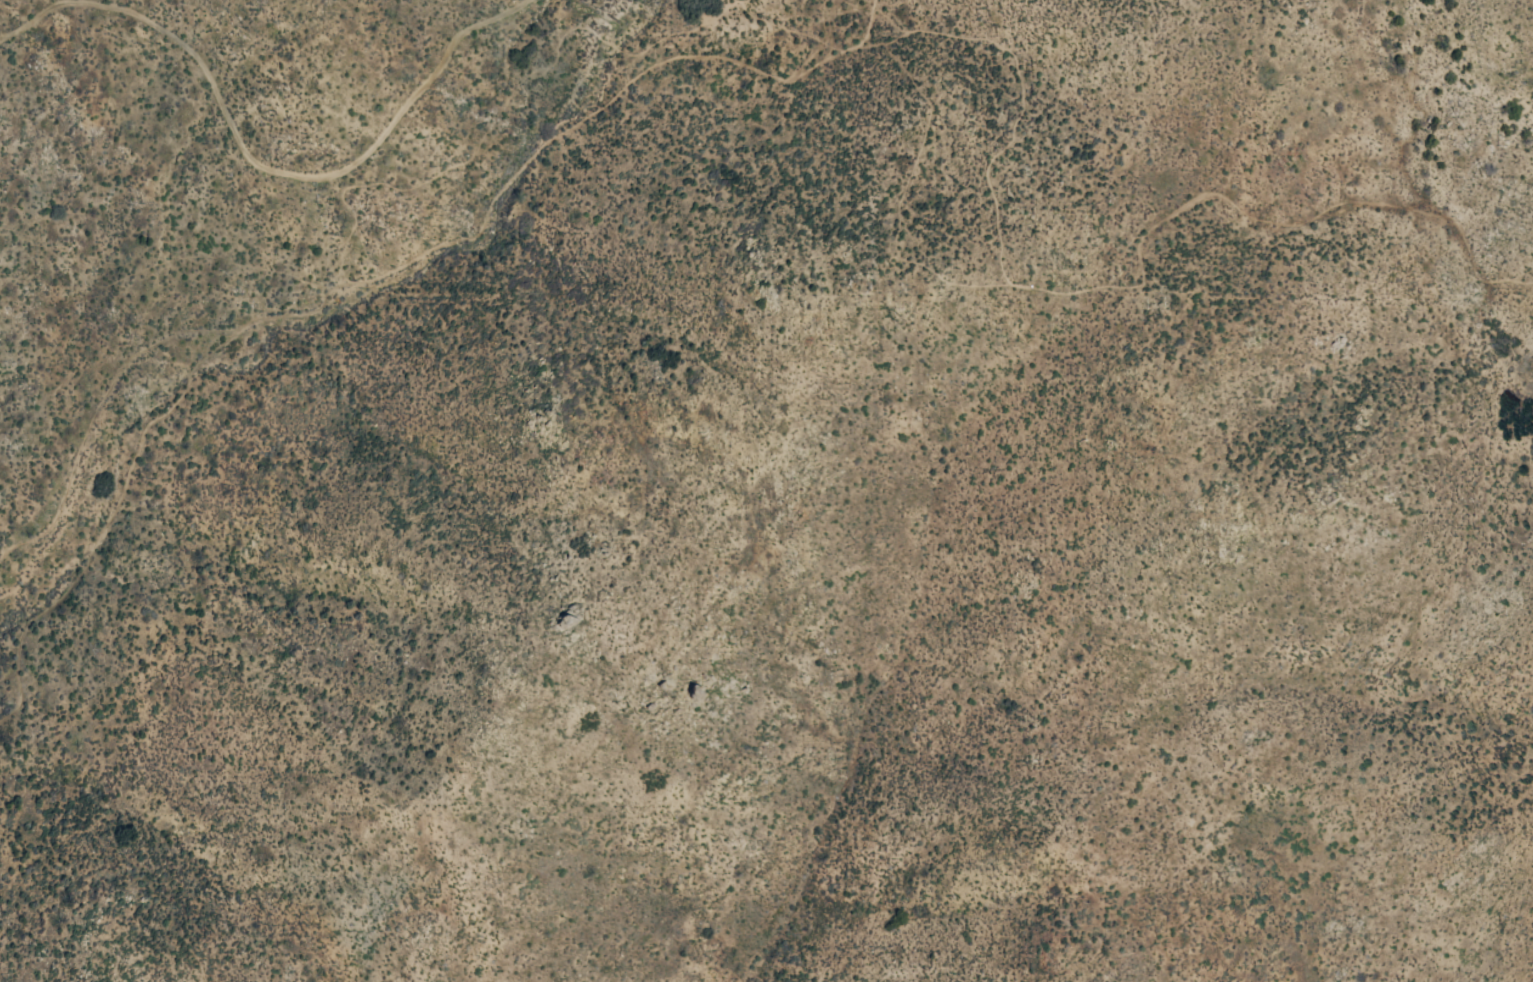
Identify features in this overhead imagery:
road: (256, 167)
road: (340, 292)

